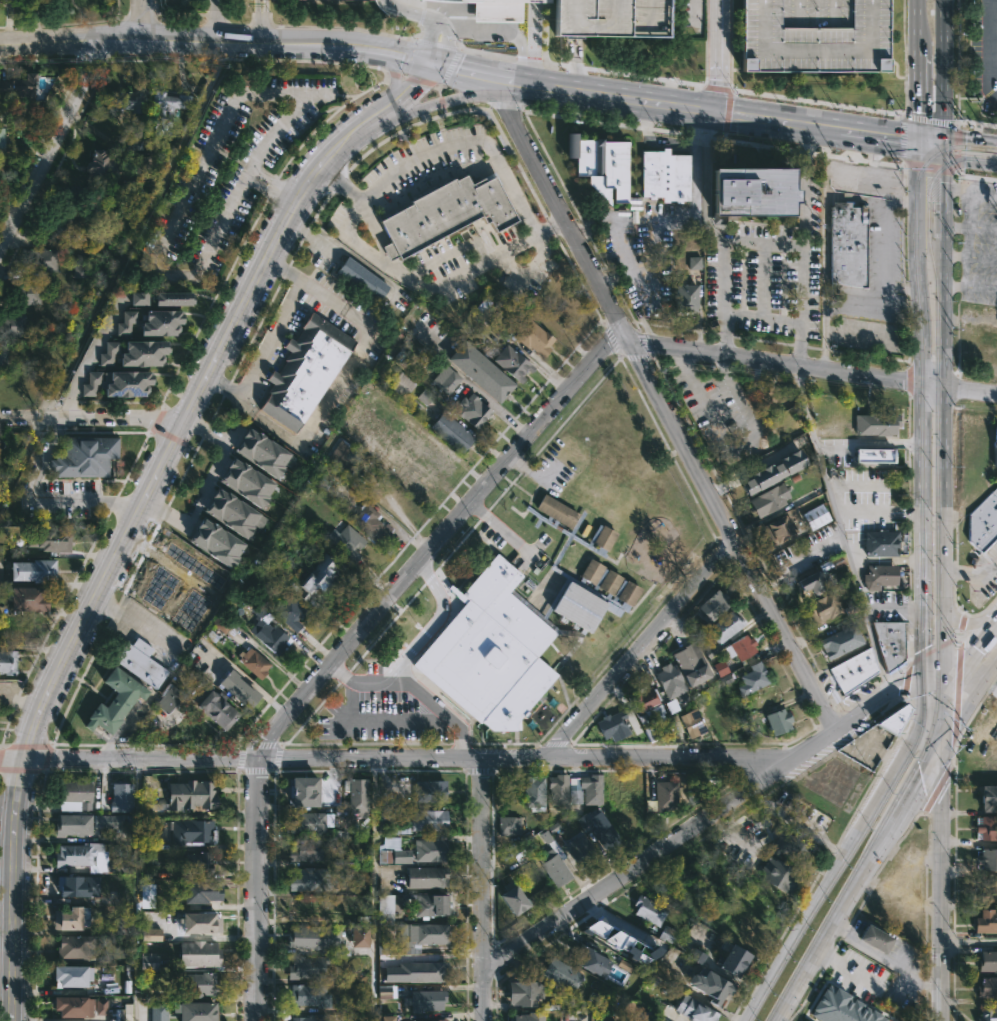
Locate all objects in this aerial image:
building: (496, 10)
road: (695, 10)
road: (409, 11)
building: (611, 17)
parking garage: (611, 17)
road: (141, 19)
road: (212, 20)
road: (501, 29)
road: (915, 30)
building: (815, 34)
parking garage: (815, 34)
road: (991, 40)
road: (216, 41)
road: (431, 41)
road: (438, 43)
road: (446, 48)
road: (717, 56)
road: (409, 57)
traffic signals: (431, 61)
road: (573, 65)
road: (450, 67)
road: (941, 67)
road: (582, 68)
road: (463, 69)
road: (393, 72)
road: (394, 74)
road: (421, 81)
building: (19, 84)
road: (717, 88)
road: (414, 89)
building: (127, 100)
road: (441, 100)
road: (444, 101)
road: (914, 101)
road: (816, 103)
building: (167, 110)
road: (704, 111)
traffic signals: (941, 135)
road: (927, 138)
road: (969, 138)
building: (0, 139)
traffic signals: (913, 142)
road: (50, 143)
road: (941, 146)
road: (926, 149)
railway: (996, 156)
traffic signals: (940, 158)
road: (968, 162)
building: (103, 163)
building: (602, 164)
building: (142, 165)
parking lot: (228, 168)
road: (957, 173)
building: (665, 175)
road: (251, 176)
building: (843, 176)
road: (190, 185)
road: (274, 185)
road: (342, 185)
road: (804, 188)
building: (753, 191)
building: (73, 193)
road: (288, 194)
building: (447, 212)
road: (346, 222)
building: (58, 226)
road: (713, 233)
road: (825, 240)
building: (848, 243)
road: (883, 246)
building: (43, 259)
building: (694, 262)
road: (801, 268)
building: (80, 270)
building: (360, 276)
building: (26, 292)
building: (685, 296)
road: (871, 296)
building: (138, 298)
building: (174, 299)
building: (64, 303)
road: (762, 318)
building: (126, 322)
building: (162, 322)
building: (12, 325)
road: (918, 333)
building: (533, 336)
road: (270, 338)
road: (98, 339)
building: (109, 353)
building: (144, 353)
building: (0, 359)
building: (512, 363)
road: (813, 368)
building: (304, 371)
building: (480, 371)
building: (444, 379)
building: (90, 383)
building: (126, 383)
road: (341, 383)
building: (401, 384)
road: (477, 389)
road: (663, 405)
building: (472, 410)
parking lot: (721, 410)
road: (941, 415)
road: (92, 418)
building: (875, 423)
building: (836, 424)
building: (451, 432)
building: (996, 442)
road: (867, 444)
road: (733, 445)
building: (262, 453)
building: (874, 455)
building: (434, 456)
building: (85, 457)
road: (20, 458)
building: (343, 458)
building: (772, 471)
building: (409, 476)
road: (209, 482)
building: (247, 483)
road: (865, 488)
building: (769, 500)
road: (42, 501)
road: (877, 510)
building: (233, 513)
building: (815, 516)
building: (984, 521)
building: (369, 523)
road: (499, 527)
building: (780, 529)
road: (840, 530)
road: (128, 537)
building: (50, 542)
building: (217, 543)
building: (347, 543)
building: (881, 543)
road: (816, 548)
road: (884, 560)
road: (165, 570)
building: (193, 570)
building: (33, 571)
road: (971, 573)
building: (881, 574)
railway: (921, 576)
building: (317, 580)
building: (817, 582)
railway: (937, 585)
building: (159, 590)
road: (175, 597)
building: (28, 599)
road: (920, 599)
building: (715, 606)
building: (823, 608)
road: (891, 608)
building: (190, 611)
building: (289, 612)
road: (968, 623)
road: (132, 625)
building: (519, 625)
road: (963, 625)
building: (267, 631)
building: (724, 631)
building: (238, 635)
road: (353, 639)
building: (840, 641)
building: (890, 642)
building: (742, 647)
road: (413, 648)
road: (640, 650)
building: (8, 662)
building: (139, 663)
building: (254, 663)
building: (692, 665)
road: (964, 666)
building: (853, 670)
traffic signals: (932, 672)
building: (753, 679)
building: (670, 681)
road: (957, 682)
building: (238, 690)
building: (167, 698)
building: (646, 698)
building: (115, 702)
road: (964, 706)
road: (438, 708)
building: (217, 709)
traffic signals: (933, 709)
road: (933, 712)
building: (993, 718)
building: (894, 719)
road: (382, 720)
building: (778, 721)
building: (693, 723)
building: (613, 725)
traffic signals: (934, 753)
road: (394, 758)
building: (587, 788)
building: (305, 789)
building: (557, 789)
building: (430, 790)
building: (533, 791)
road: (911, 792)
building: (73, 793)
building: (664, 795)
building: (121, 796)
building: (184, 796)
building: (989, 796)
building: (358, 797)
road: (706, 815)
building: (388, 816)
building: (429, 819)
building: (106, 820)
building: (310, 821)
road: (793, 823)
building: (73, 824)
building: (508, 826)
building: (988, 827)
building: (192, 831)
building: (606, 833)
building: (791, 848)
building: (308, 849)
building: (430, 849)
building: (392, 851)
building: (581, 851)
building: (83, 856)
building: (988, 858)
building: (553, 859)
building: (198, 862)
road: (837, 864)
building: (121, 866)
building: (779, 875)
building: (425, 877)
building: (308, 879)
building: (72, 887)
road: (937, 887)
road: (137, 889)
road: (373, 889)
road: (483, 889)
building: (988, 889)
building: (200, 893)
building: (516, 897)
building: (426, 903)
building: (306, 907)
building: (384, 909)
building: (650, 910)
building: (72, 917)
building: (987, 920)
building: (200, 921)
road: (832, 926)
building: (151, 934)
building: (359, 935)
building: (420, 935)
building: (668, 935)
building: (313, 938)
building: (878, 938)
building: (621, 941)
road: (968, 942)
building: (75, 947)
road: (862, 947)
building: (199, 954)
building: (696, 956)
building: (735, 958)
building: (588, 960)
building: (988, 961)
building: (148, 962)
building: (307, 967)
road: (848, 967)
building: (411, 968)
building: (71, 974)
building: (562, 975)
road: (905, 978)
building: (197, 985)
building: (715, 985)
building: (987, 988)
building: (384, 991)
building: (525, 991)
building: (308, 996)
building: (425, 1000)
building: (78, 1005)
building: (838, 1008)
building: (696, 1009)
building: (196, 1010)
building: (158, 1012)
building: (988, 1014)
building: (530, 1016)
building: (310, 1018)
building: (387, 1018)
building: (421, 1020)

